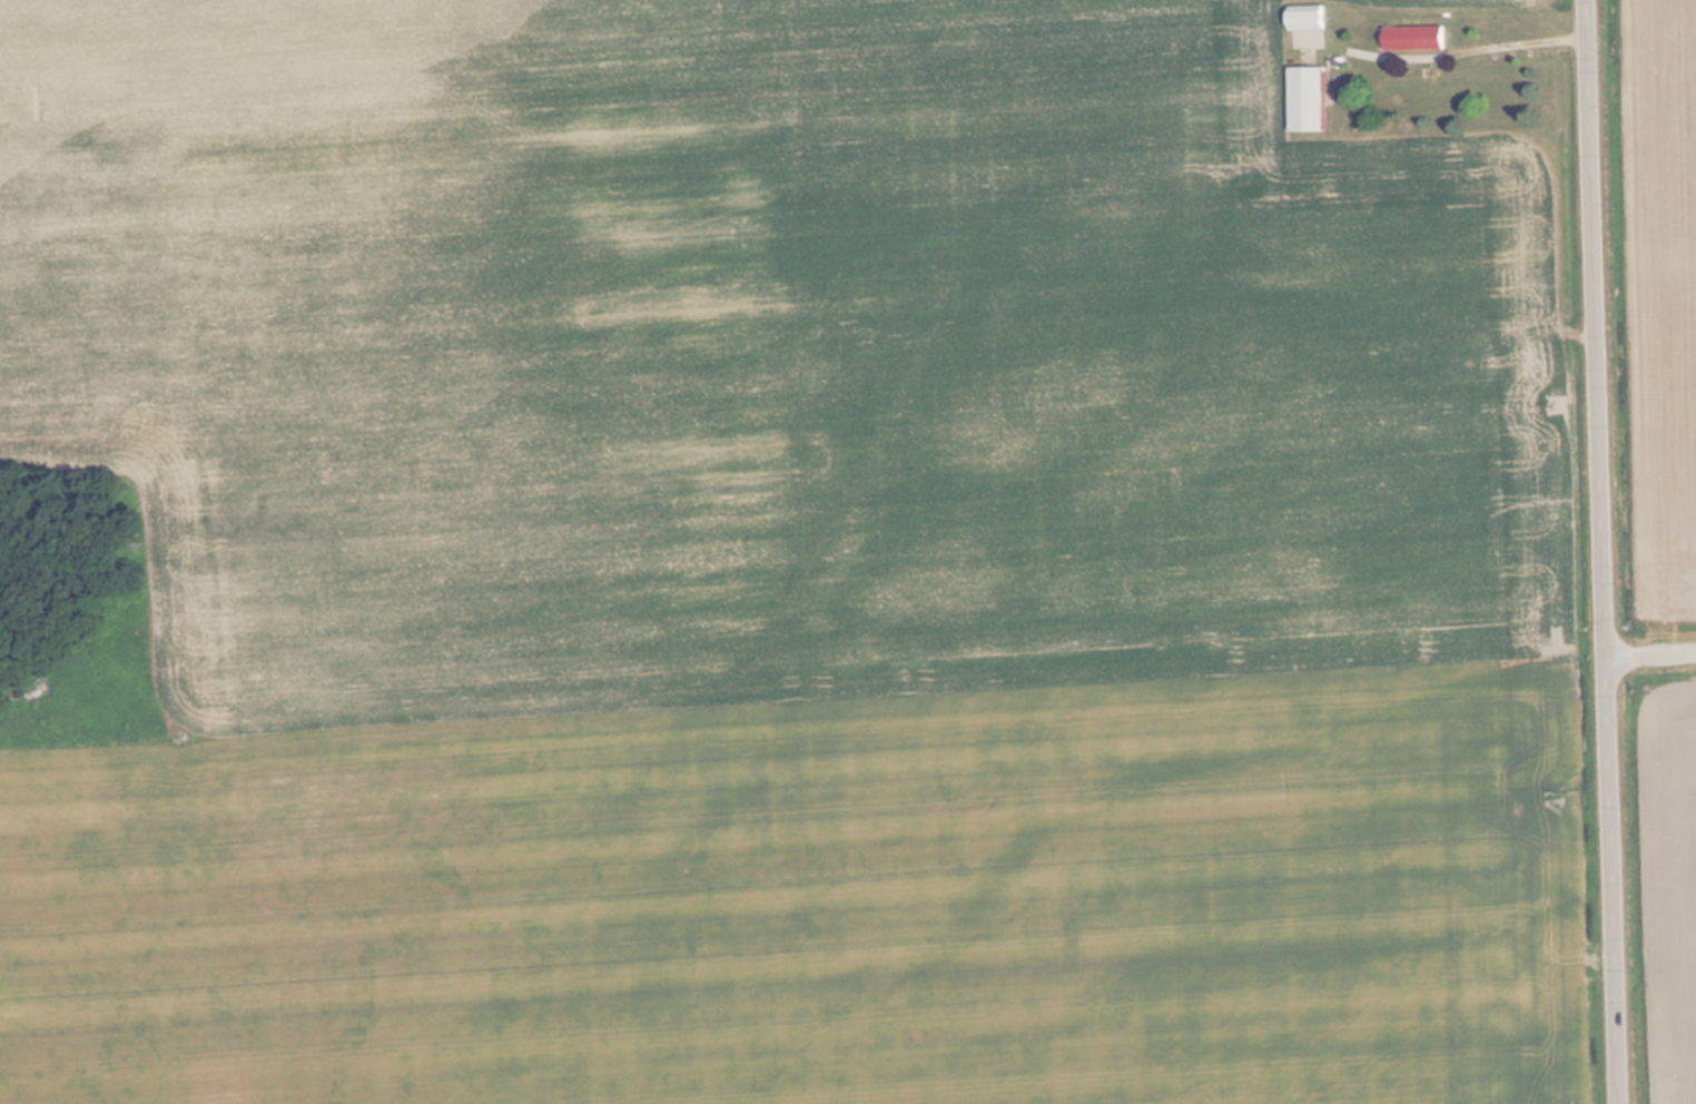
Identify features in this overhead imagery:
building: (1311, 18)
building: (1413, 38)
building: (1312, 100)
road: (1609, 552)
road: (1654, 652)

